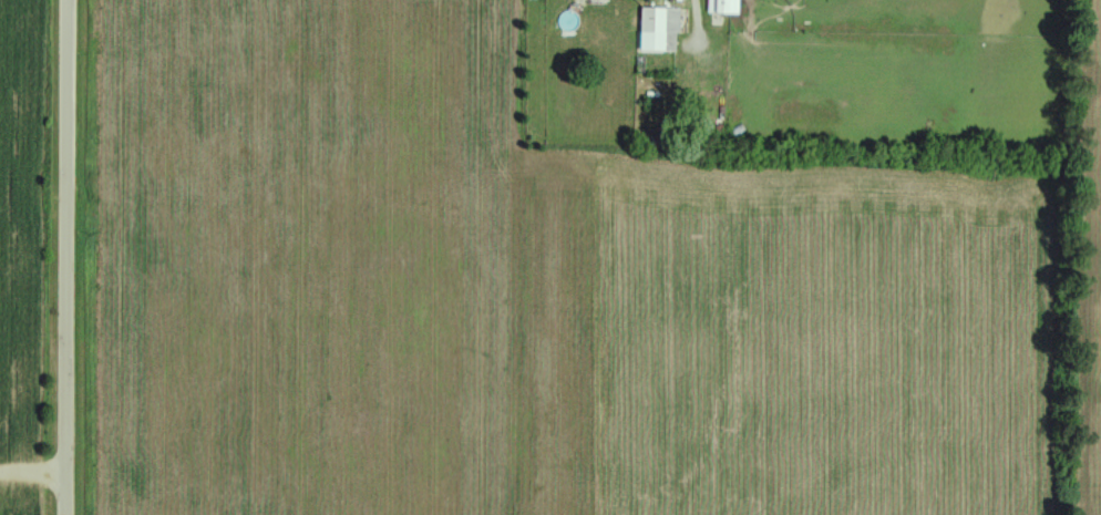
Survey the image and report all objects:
road: (698, 12)
building: (657, 30)
road: (68, 257)
road: (33, 473)

